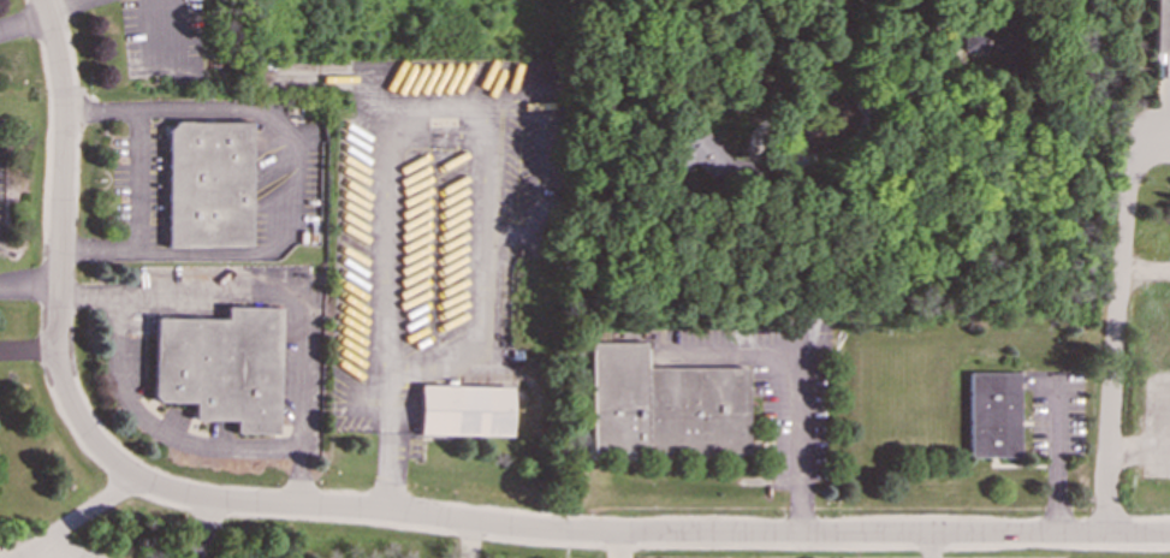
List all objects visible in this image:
road: (61, 7)
road: (24, 19)
building: (1162, 26)
road: (167, 31)
road: (851, 91)
road: (522, 101)
road: (768, 156)
building: (711, 158)
road: (486, 165)
road: (136, 180)
building: (209, 184)
road: (289, 185)
road: (59, 233)
road: (1145, 266)
road: (28, 287)
road: (281, 293)
road: (1116, 304)
road: (29, 344)
building: (221, 367)
road: (798, 382)
building: (663, 404)
building: (464, 410)
building: (993, 415)
road: (150, 428)
road: (385, 443)
road: (1140, 444)
road: (1056, 463)
road: (72, 517)
road: (200, 529)
road: (632, 533)
road: (467, 539)
road: (614, 545)
road: (933, 546)

